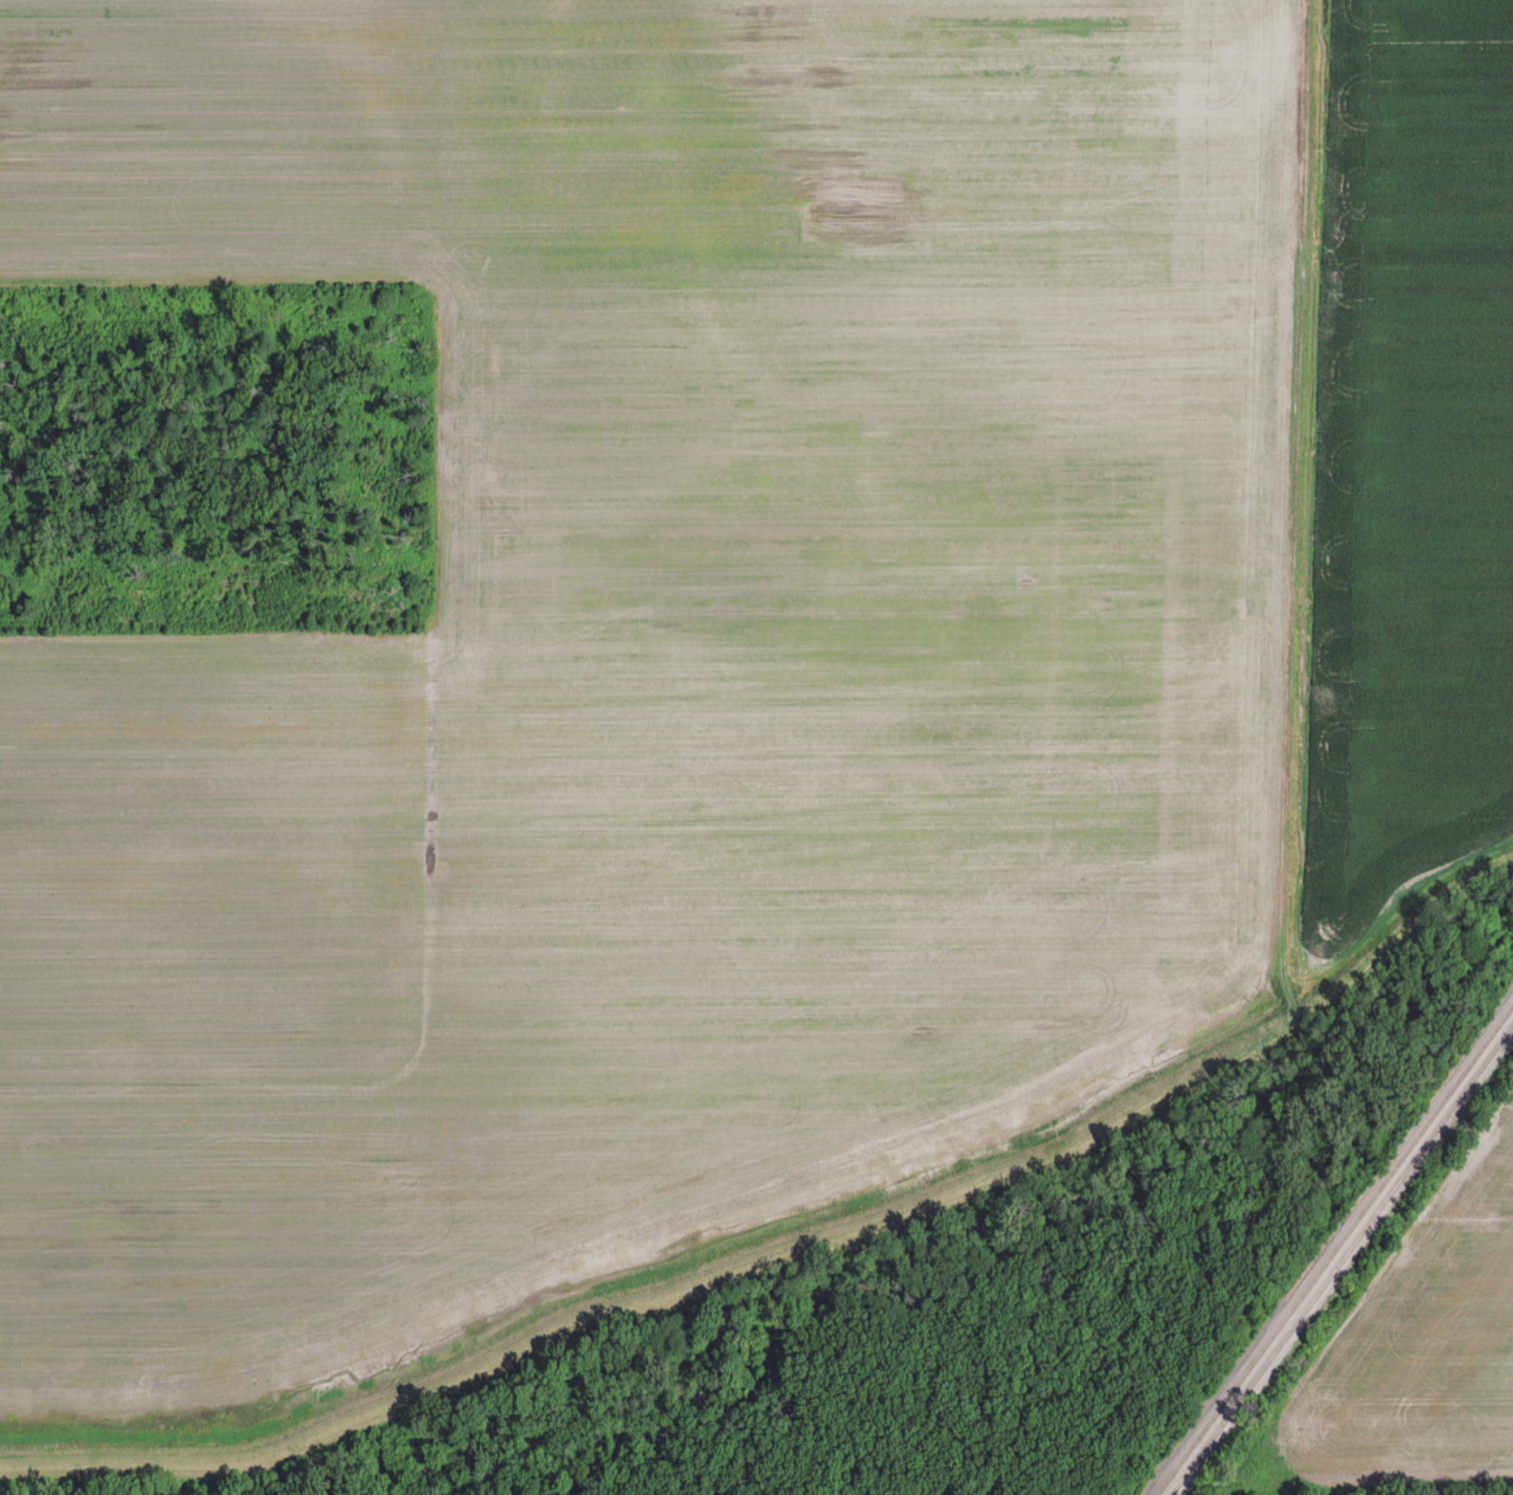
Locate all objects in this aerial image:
railway: (1334, 1249)
railway: (1341, 1258)

